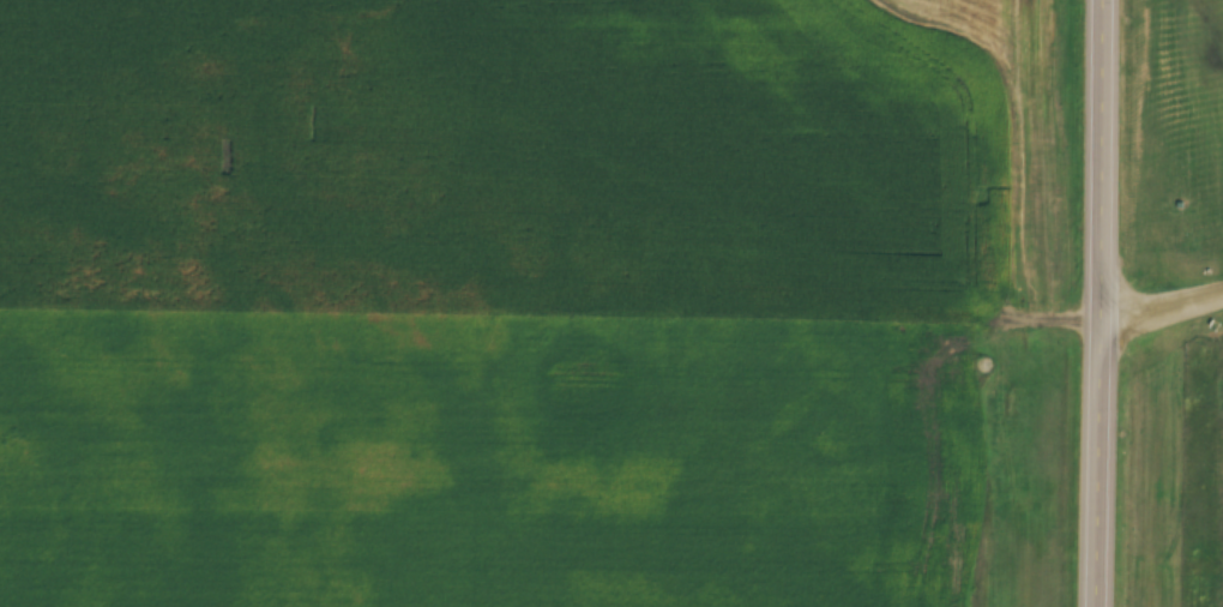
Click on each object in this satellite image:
road: (1107, 303)

